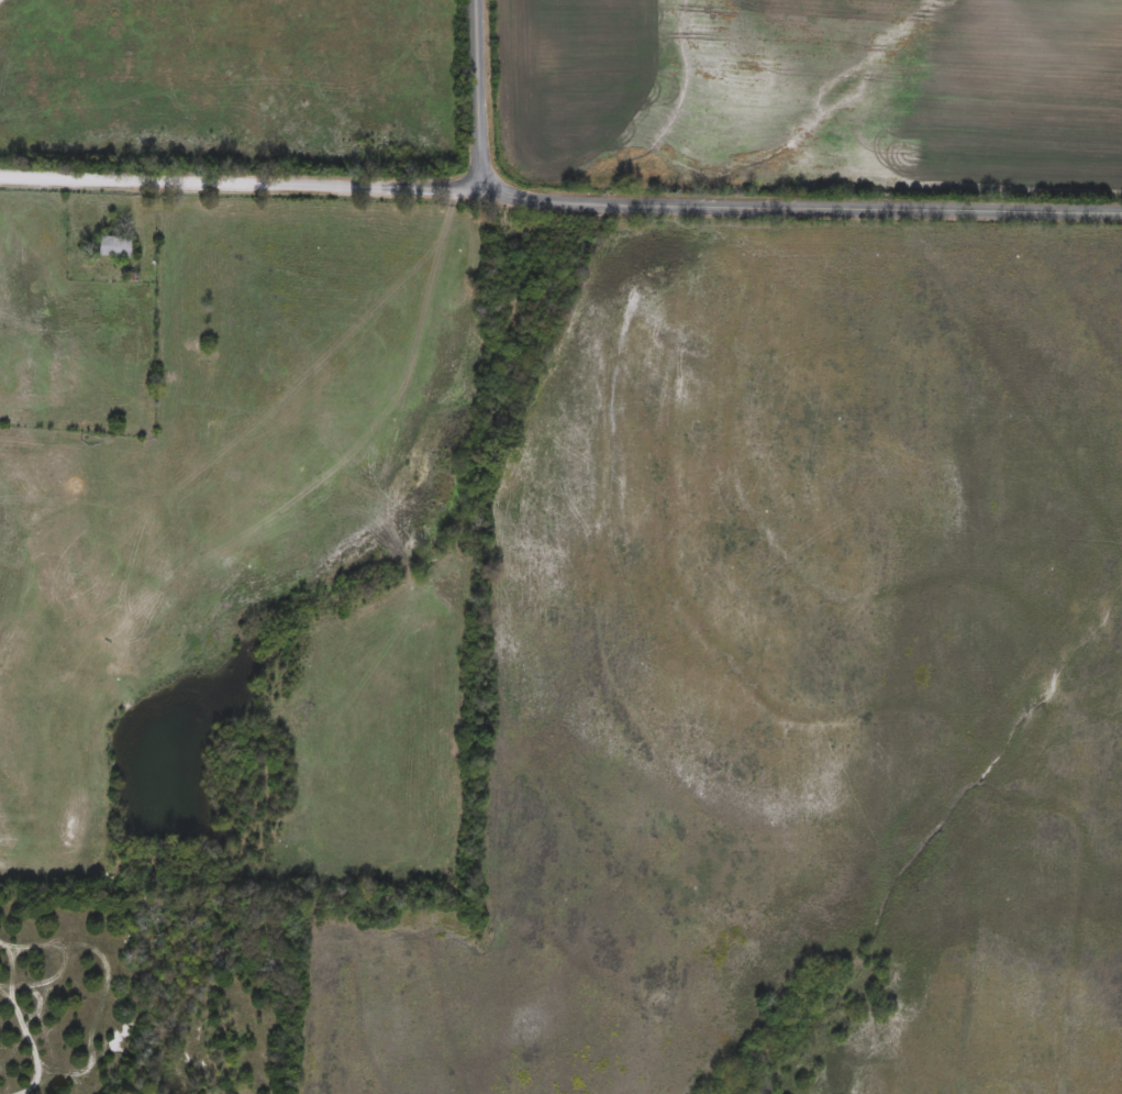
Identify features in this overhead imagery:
road: (475, 87)
road: (559, 190)
building: (110, 248)

